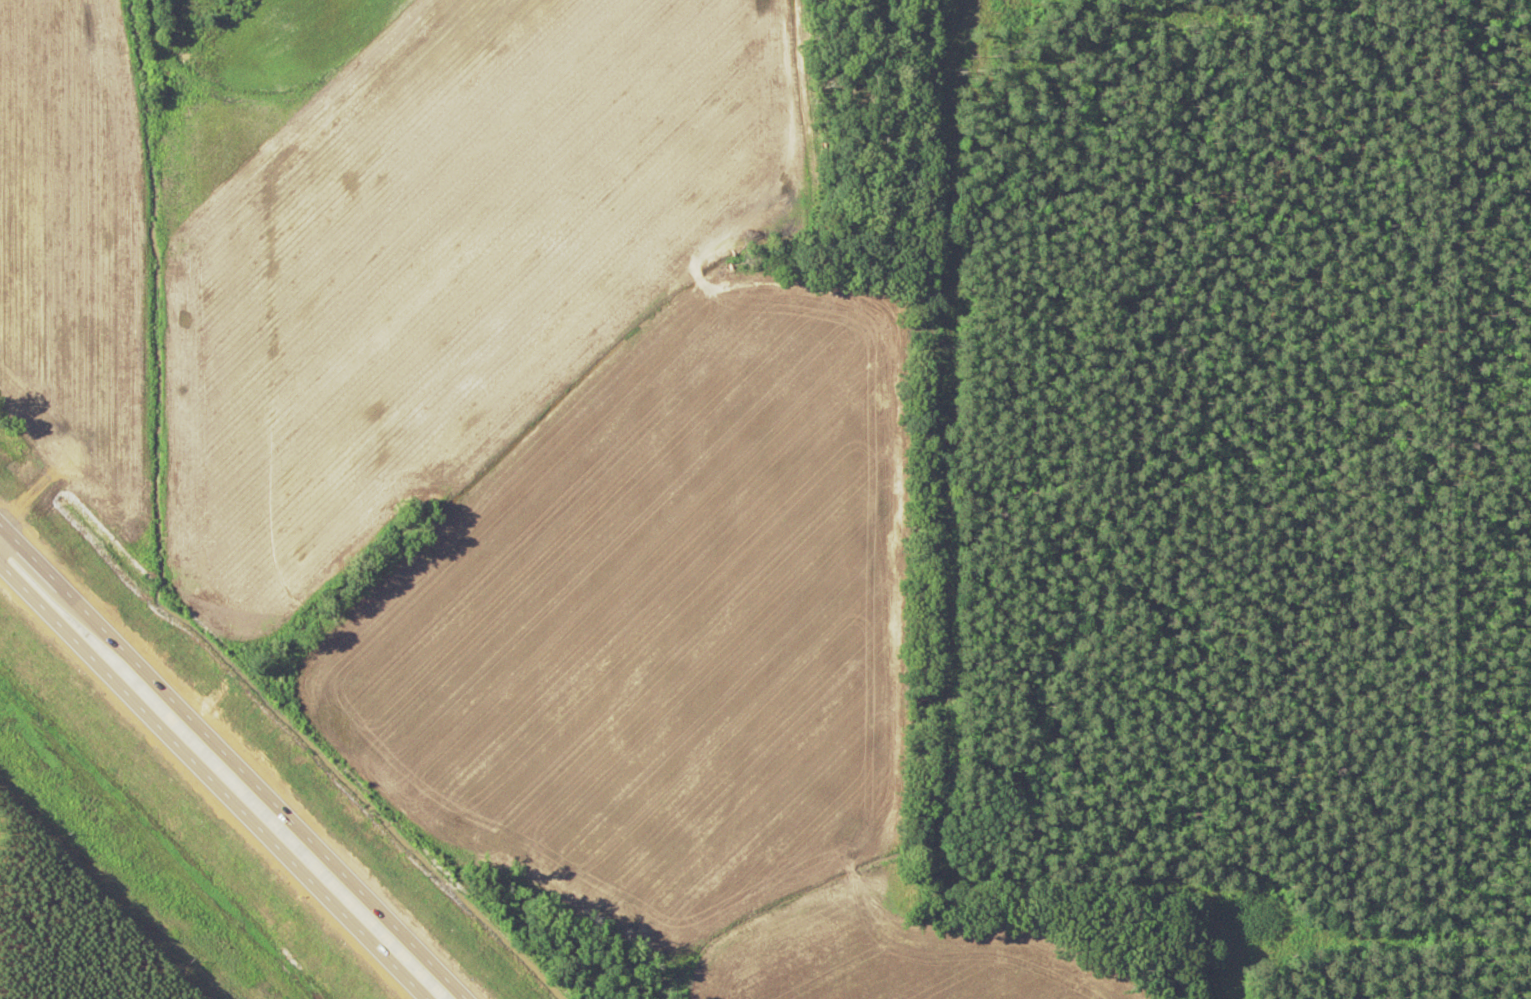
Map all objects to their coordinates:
road: (230, 764)
road: (208, 784)

